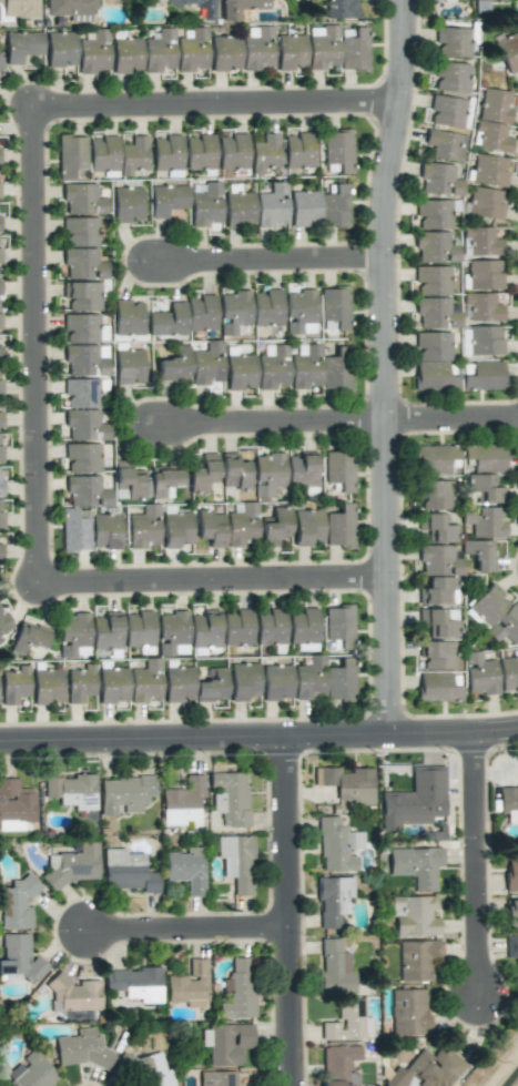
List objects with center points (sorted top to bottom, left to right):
building: (446, 0)
building: (517, 0)
building: (195, 6)
building: (481, 6)
building: (20, 8)
building: (240, 8)
building: (71, 9)
building: (341, 9)
building: (453, 42)
building: (21, 45)
building: (323, 47)
building: (60, 49)
building: (354, 49)
building: (159, 50)
building: (192, 50)
building: (257, 50)
building: (93, 51)
building: (291, 51)
building: (225, 52)
building: (508, 52)
building: (126, 55)
building: (1, 67)
building: (451, 77)
road: (212, 102)
building: (445, 111)
building: (494, 120)
building: (445, 144)
building: (232, 150)
building: (298, 150)
building: (337, 151)
building: (200, 152)
building: (265, 153)
building: (71, 154)
building: (103, 155)
building: (133, 155)
building: (489, 170)
building: (438, 180)
building: (82, 200)
building: (167, 200)
building: (484, 203)
building: (126, 204)
building: (272, 205)
building: (206, 206)
building: (304, 207)
building: (335, 207)
building: (238, 209)
building: (433, 214)
building: (481, 241)
building: (435, 247)
building: (81, 250)
road: (266, 257)
building: (485, 274)
building: (431, 281)
building: (0, 288)
building: (82, 295)
building: (335, 306)
building: (266, 307)
building: (481, 307)
building: (299, 309)
building: (233, 311)
building: (201, 313)
building: (436, 313)
building: (128, 317)
building: (169, 321)
building: (0, 322)
building: (80, 328)
building: (480, 341)
road: (31, 343)
building: (433, 346)
building: (0, 353)
building: (84, 361)
building: (193, 364)
building: (129, 366)
road: (380, 366)
building: (273, 367)
building: (319, 368)
building: (241, 372)
building: (0, 375)
building: (481, 375)
building: (436, 376)
building: (81, 393)
building: (0, 419)
road: (449, 419)
road: (266, 420)
building: (84, 426)
building: (0, 447)
building: (82, 457)
building: (436, 459)
building: (339, 469)
building: (302, 470)
building: (485, 470)
building: (234, 471)
building: (203, 473)
building: (268, 474)
building: (128, 481)
building: (164, 481)
building: (1, 487)
building: (85, 491)
building: (434, 495)
building: (0, 514)
building: (485, 521)
building: (242, 526)
building: (275, 526)
building: (339, 526)
building: (143, 527)
building: (307, 527)
building: (211, 528)
building: (437, 528)
building: (175, 529)
building: (105, 530)
building: (74, 531)
building: (0, 551)
building: (479, 554)
building: (438, 575)
road: (209, 580)
building: (496, 613)
building: (3, 621)
building: (438, 621)
building: (303, 626)
building: (338, 626)
building: (237, 627)
building: (271, 627)
building: (205, 628)
building: (106, 630)
building: (139, 631)
building: (172, 633)
building: (73, 635)
building: (30, 636)
building: (0, 640)
building: (204, 650)
building: (437, 654)
building: (508, 673)
building: (479, 674)
building: (309, 679)
building: (339, 680)
building: (145, 681)
building: (243, 681)
building: (276, 682)
building: (80, 683)
building: (177, 683)
building: (14, 684)
building: (211, 686)
building: (47, 687)
building: (112, 687)
building: (439, 687)
road: (258, 738)
building: (347, 783)
building: (72, 791)
building: (125, 793)
building: (230, 798)
building: (415, 799)
building: (16, 801)
building: (182, 802)
building: (509, 803)
building: (14, 825)
building: (337, 845)
building: (236, 861)
building: (74, 865)
building: (416, 865)
road: (475, 867)
building: (186, 870)
building: (128, 871)
building: (510, 874)
building: (333, 900)
building: (17, 902)
road: (272, 912)
building: (511, 914)
building: (414, 916)
road: (171, 928)
building: (511, 948)
building: (19, 960)
building: (416, 960)
building: (335, 968)
building: (136, 984)
building: (190, 985)
building: (238, 989)
building: (72, 994)
building: (408, 1012)
building: (348, 1022)
building: (226, 1043)
building: (80, 1048)
building: (338, 1064)
building: (427, 1069)
building: (151, 1070)
building: (30, 1072)
building: (219, 1078)

